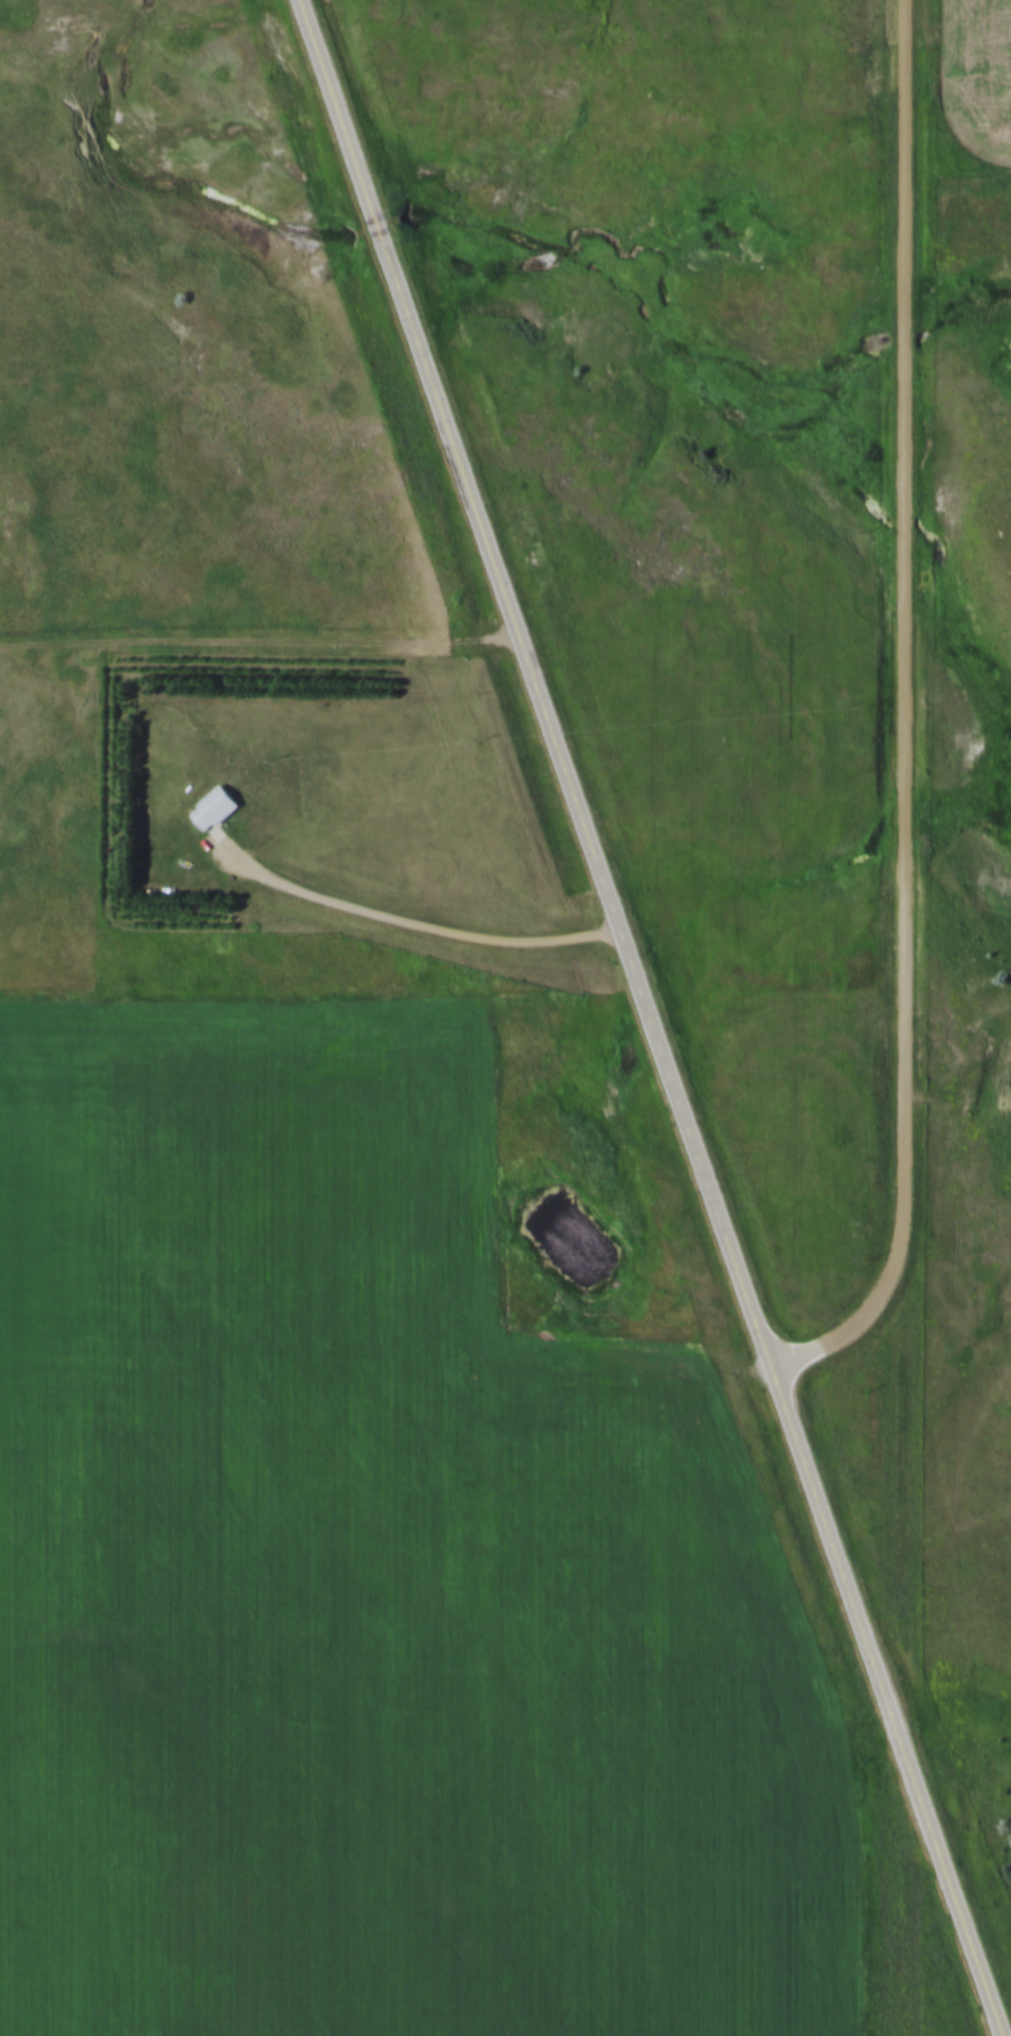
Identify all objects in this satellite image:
road: (905, 706)
building: (211, 795)
building: (215, 813)
road: (418, 918)
road: (625, 921)
road: (977, 1936)

